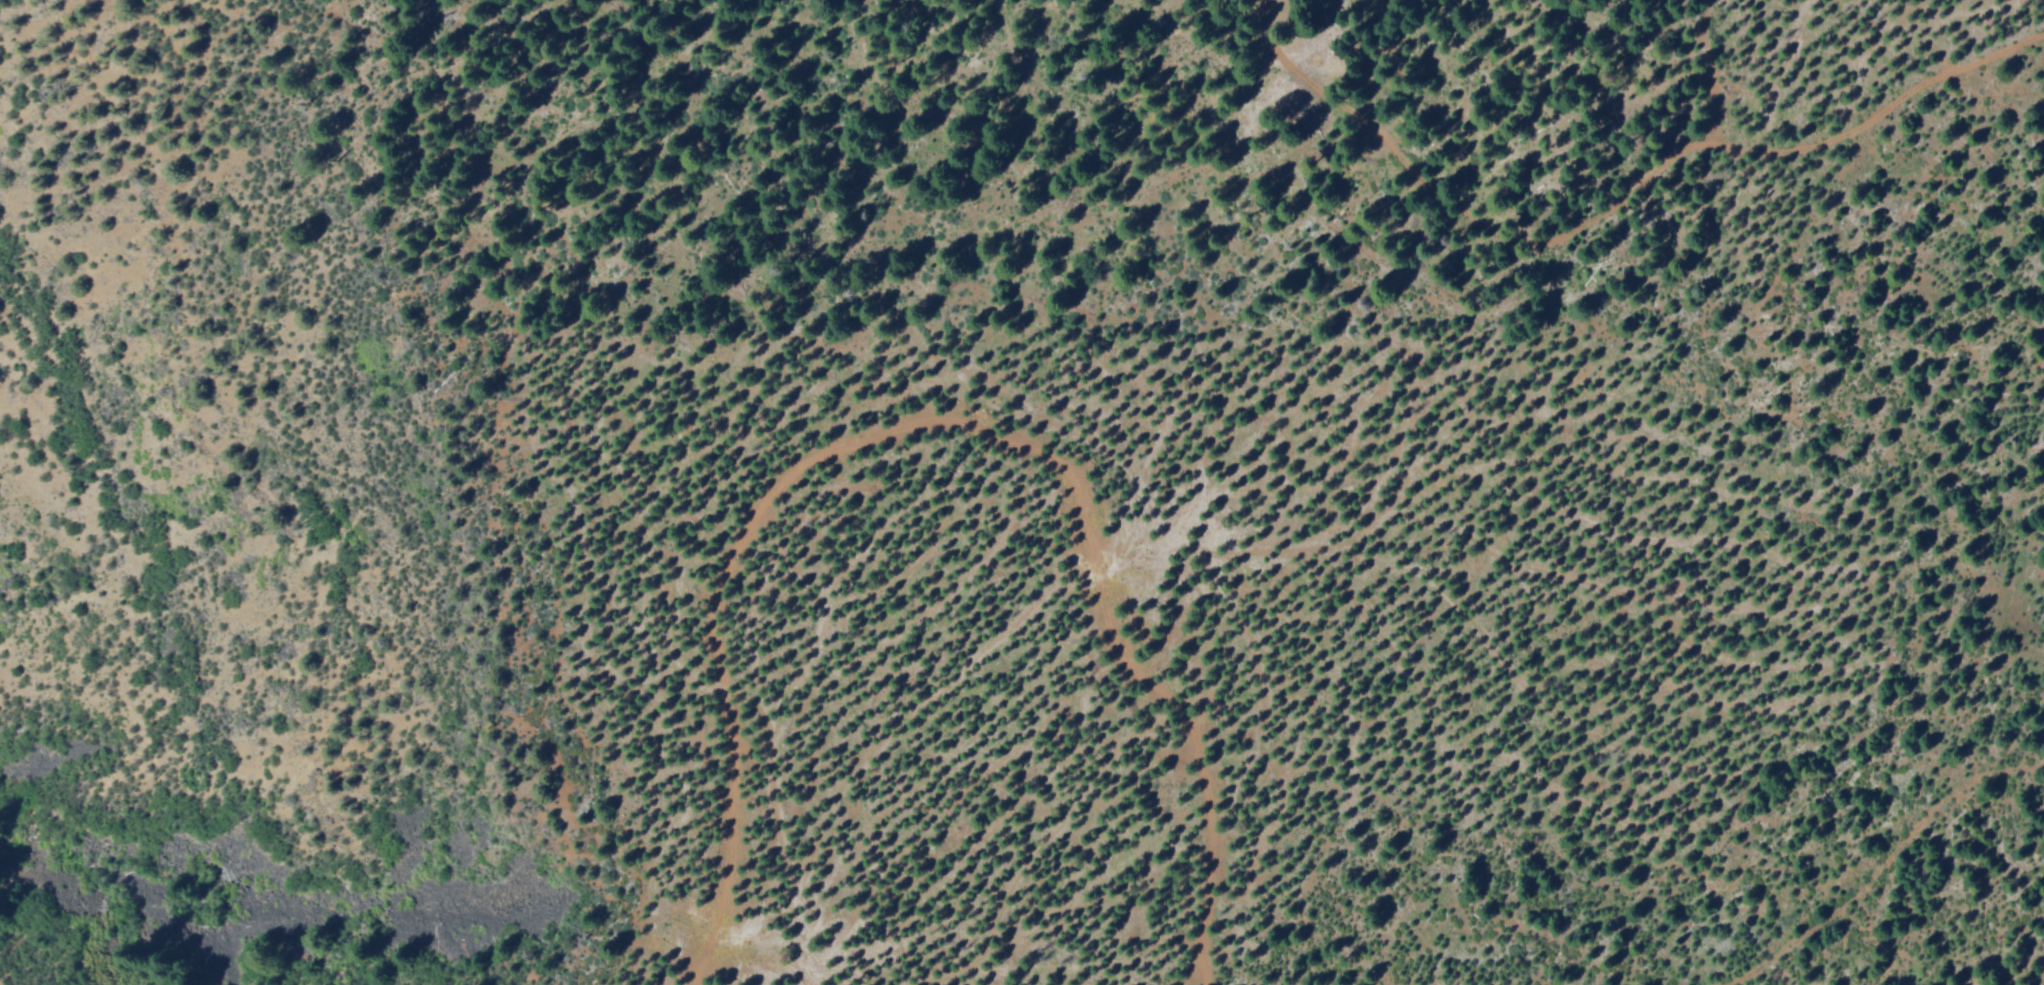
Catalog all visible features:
road: (1685, 148)

